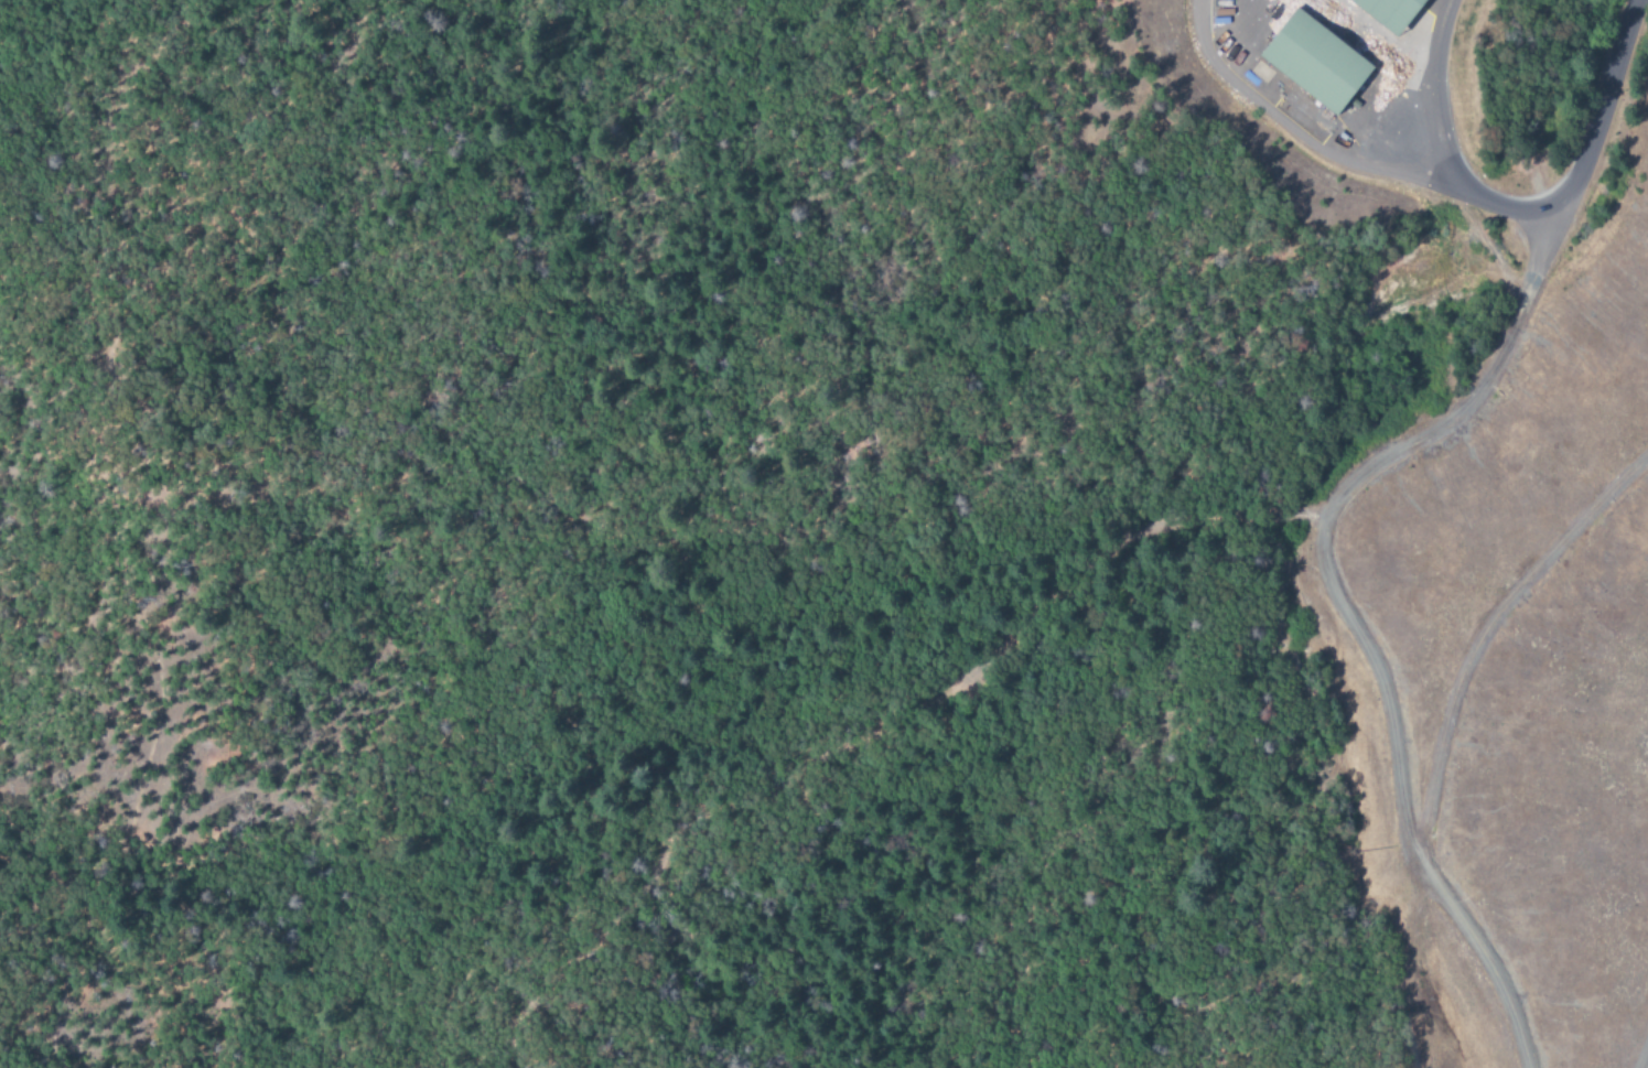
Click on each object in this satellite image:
building: (1385, 12)
building: (1311, 62)
road: (1521, 207)

